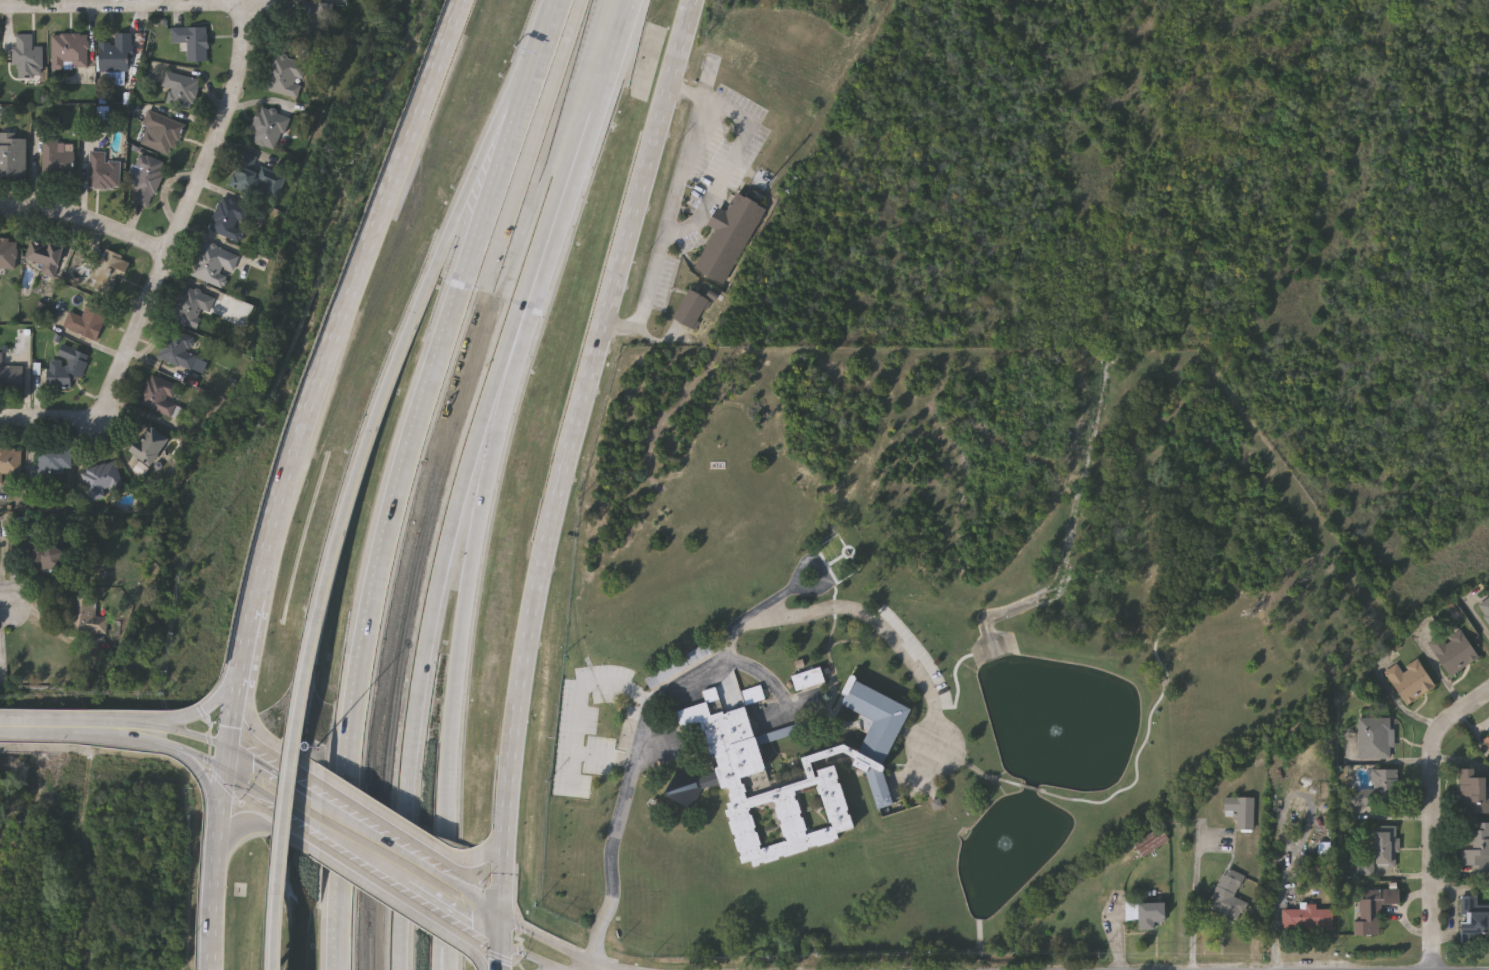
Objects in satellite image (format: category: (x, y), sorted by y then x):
road: (622, 2)
road: (122, 6)
building: (310, 25)
road: (548, 28)
building: (192, 42)
building: (69, 52)
building: (116, 54)
building: (27, 58)
building: (286, 77)
building: (181, 90)
building: (268, 129)
road: (580, 132)
building: (160, 134)
building: (13, 156)
building: (56, 160)
building: (102, 173)
building: (257, 180)
building: (146, 181)
road: (671, 215)
road: (184, 216)
building: (230, 220)
road: (86, 222)
building: (730, 237)
building: (9, 256)
building: (45, 257)
building: (214, 265)
building: (111, 270)
building: (193, 308)
building: (692, 308)
building: (87, 321)
road: (513, 324)
road: (410, 333)
building: (178, 350)
building: (68, 369)
building: (11, 376)
road: (329, 381)
building: (159, 396)
road: (50, 420)
building: (153, 446)
building: (10, 463)
building: (53, 464)
road: (554, 477)
building: (104, 481)
road: (394, 504)
building: (42, 557)
road: (460, 598)
road: (2, 607)
building: (1485, 609)
road: (862, 610)
building: (90, 618)
building: (1453, 652)
road: (419, 676)
building: (1410, 681)
building: (806, 682)
road: (581, 708)
road: (248, 713)
road: (195, 714)
road: (64, 728)
road: (180, 733)
fountain: (1056, 733)
building: (1374, 738)
building: (1487, 742)
traffic signals: (230, 747)
road: (178, 750)
road: (243, 755)
road: (637, 756)
building: (730, 773)
traffic signals: (226, 774)
road: (239, 780)
road: (285, 781)
road: (206, 788)
building: (1378, 791)
road: (290, 795)
building: (1473, 796)
road: (366, 803)
building: (1239, 812)
road: (1432, 818)
road: (243, 825)
building: (1150, 843)
fountain: (1005, 845)
building: (1386, 846)
building: (1475, 846)
road: (392, 847)
road: (361, 854)
road: (487, 859)
road: (219, 871)
road: (372, 888)
building: (1227, 896)
road: (1195, 904)
building: (1373, 909)
traffic signals: (499, 911)
building: (1144, 914)
building: (1473, 918)
building: (1306, 919)
road: (531, 931)
traffic signals: (497, 938)
road: (512, 947)
road: (442, 958)
road: (444, 958)
road: (478, 959)

